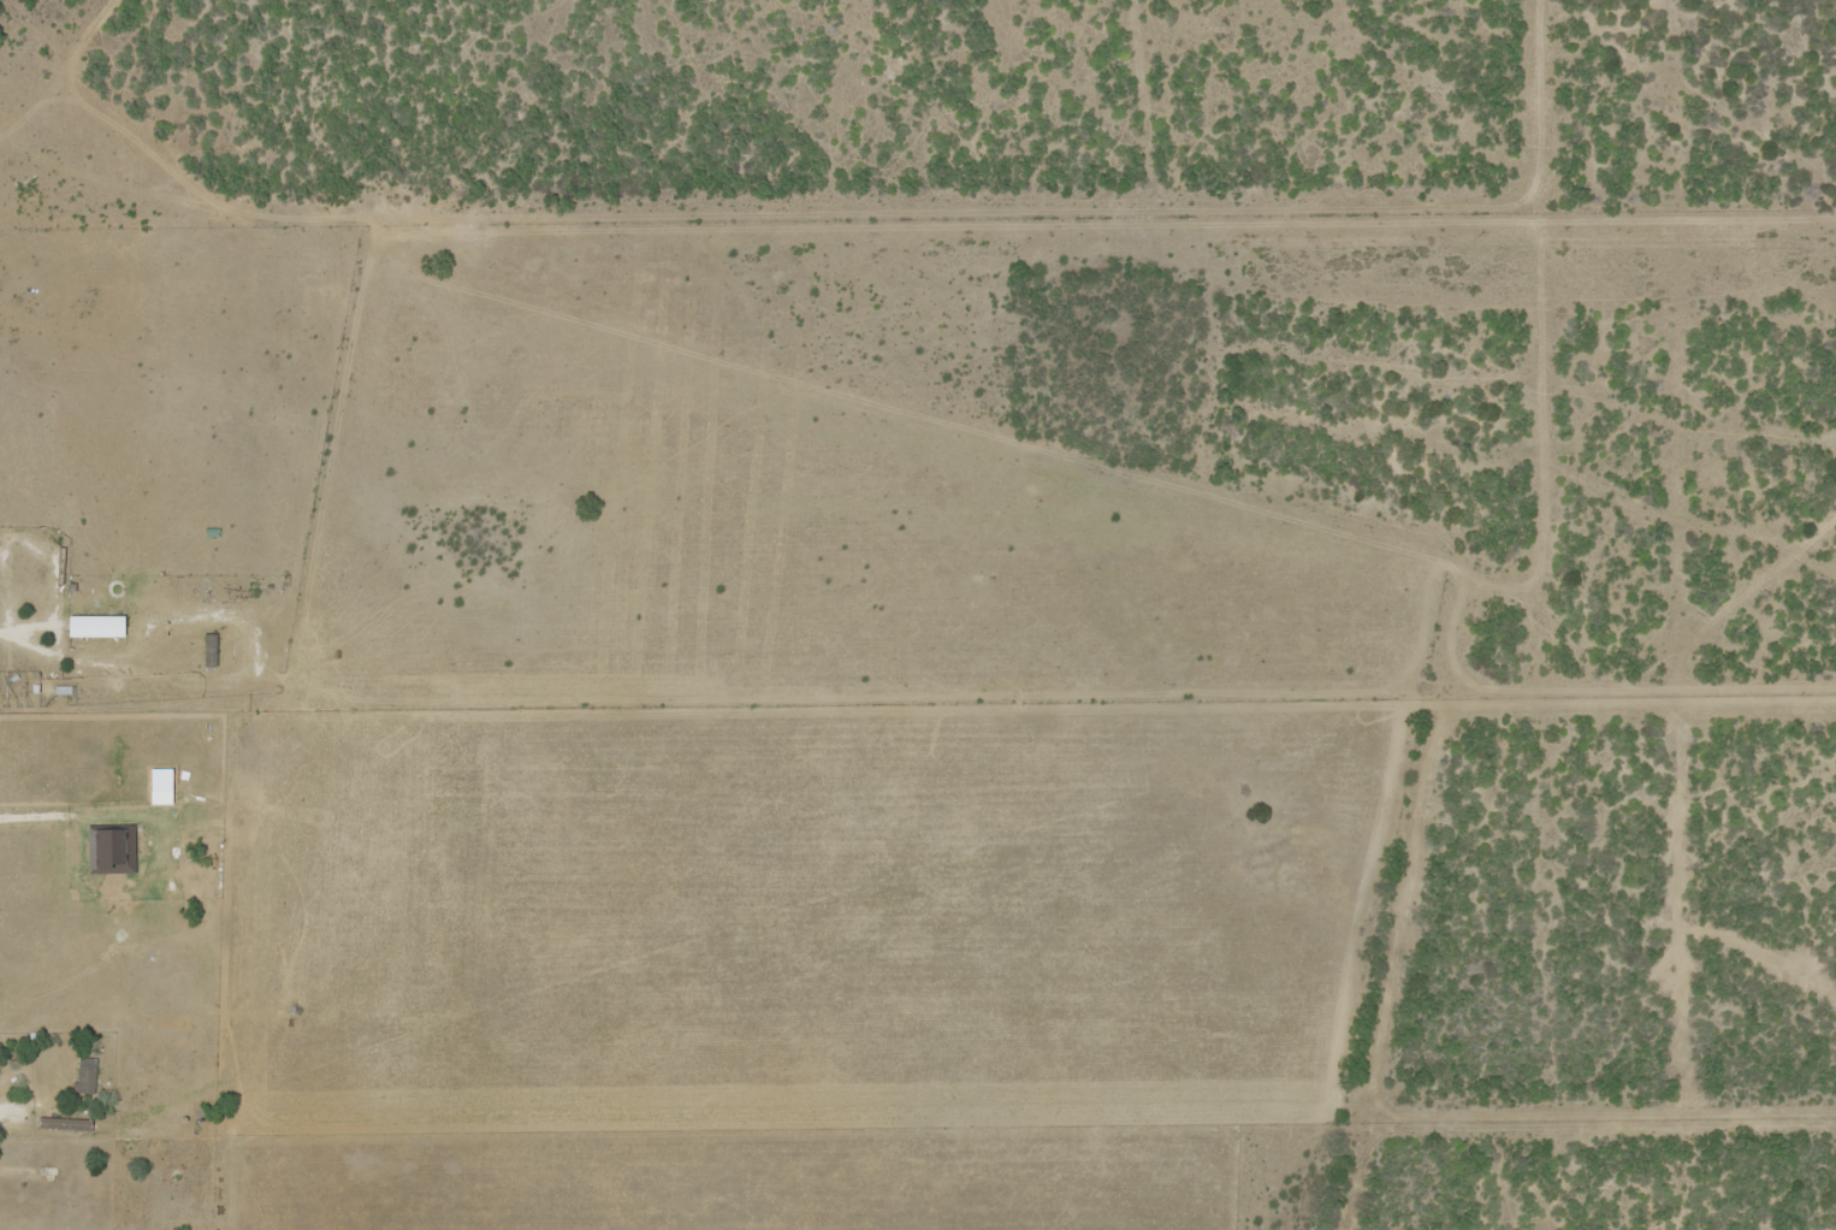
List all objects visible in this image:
building: (87, 1074)
building: (65, 1122)

